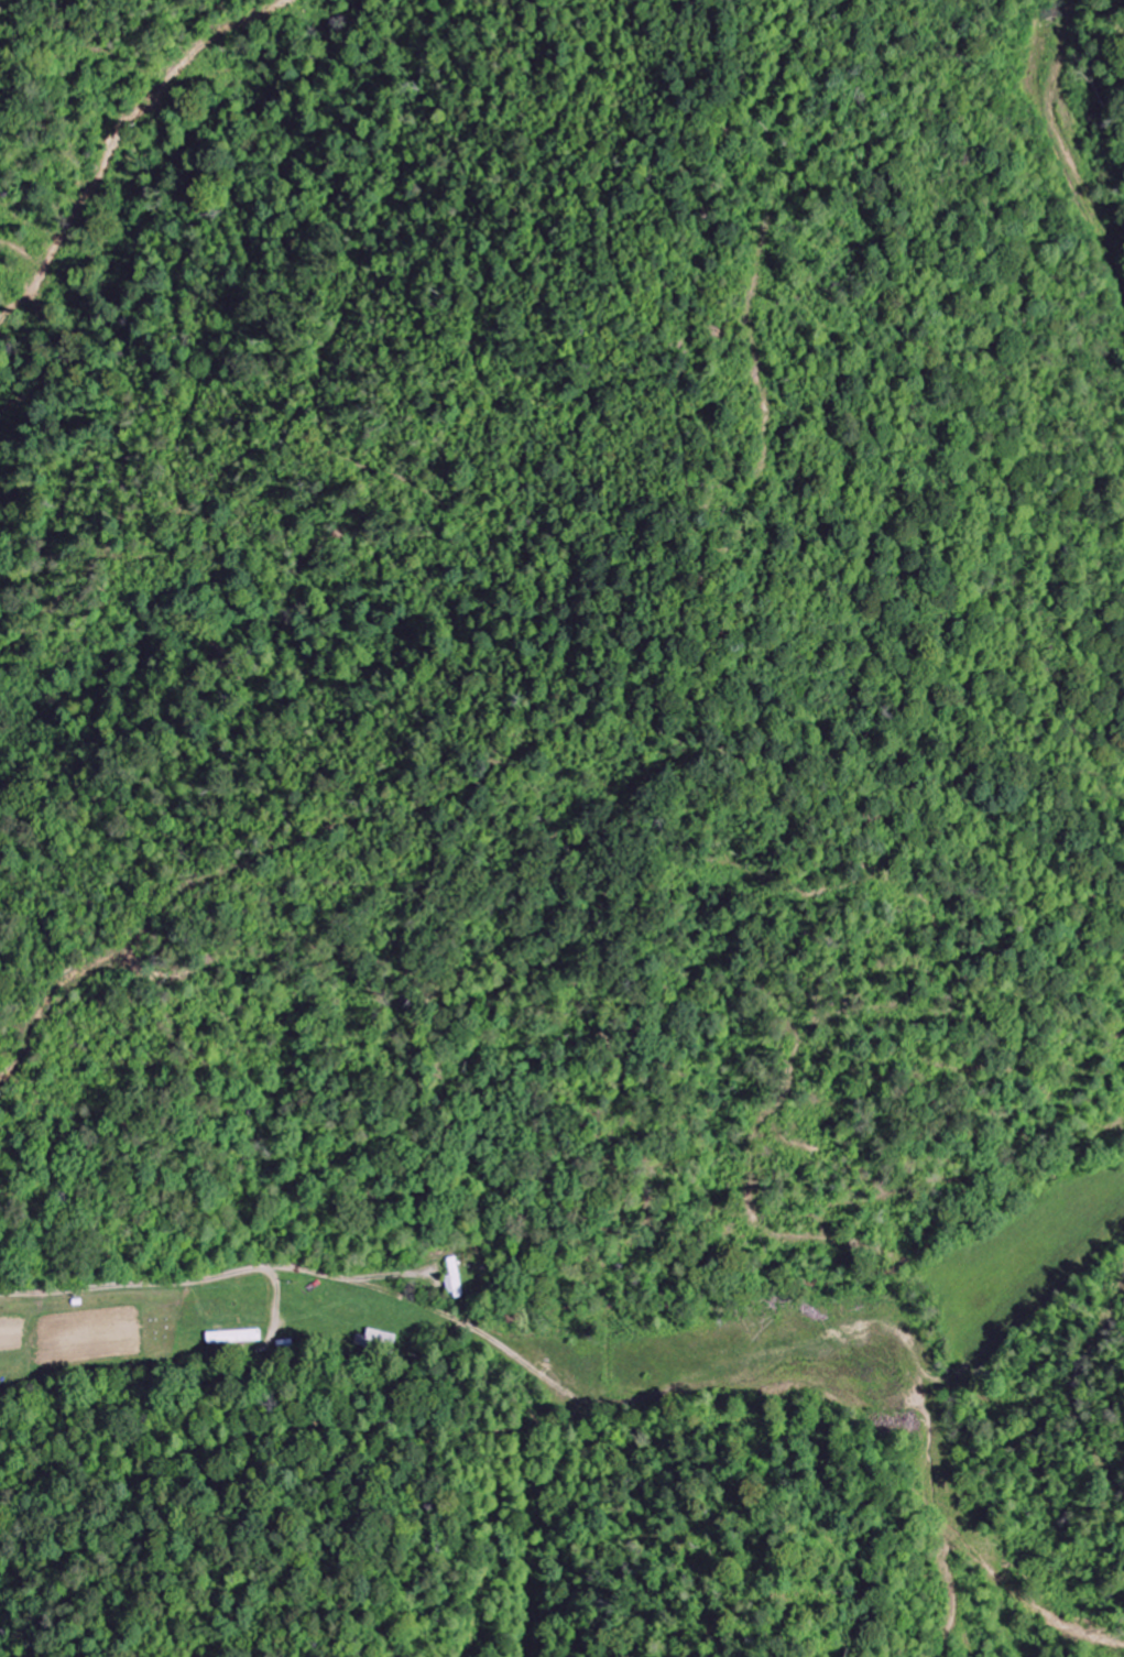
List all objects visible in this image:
building: (234, 1337)

